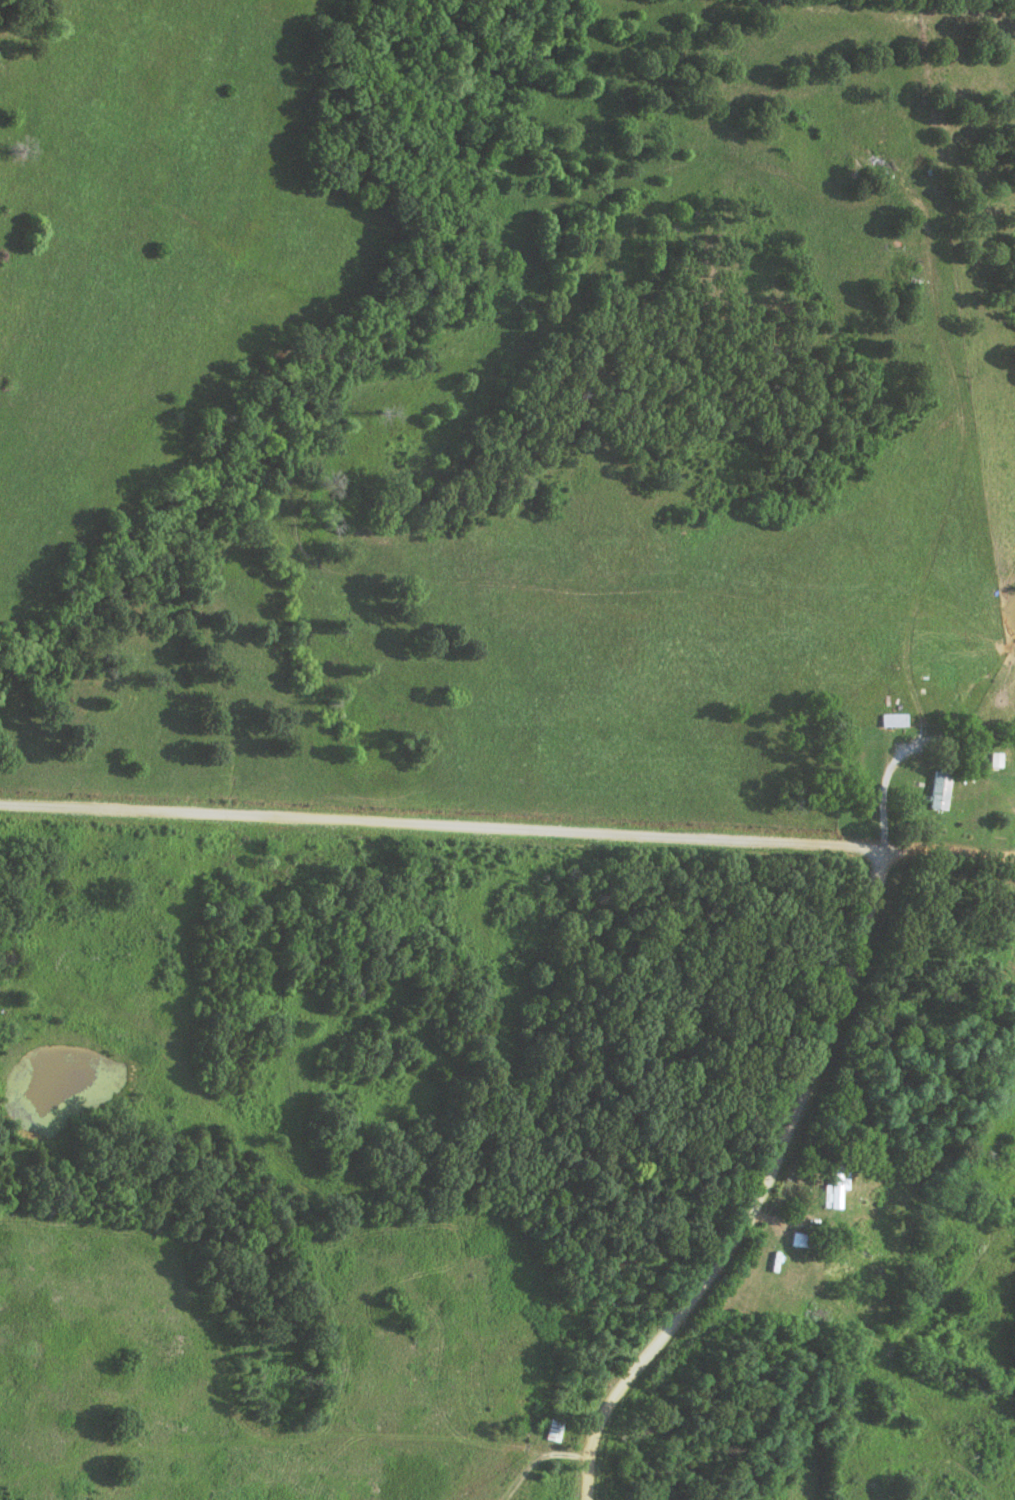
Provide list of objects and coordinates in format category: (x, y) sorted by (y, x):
building: (894, 720)
building: (997, 760)
building: (940, 790)
road: (441, 823)
road: (949, 850)
building: (833, 1190)
road: (771, 1193)
building: (803, 1240)
building: (554, 1430)
road: (548, 1462)

